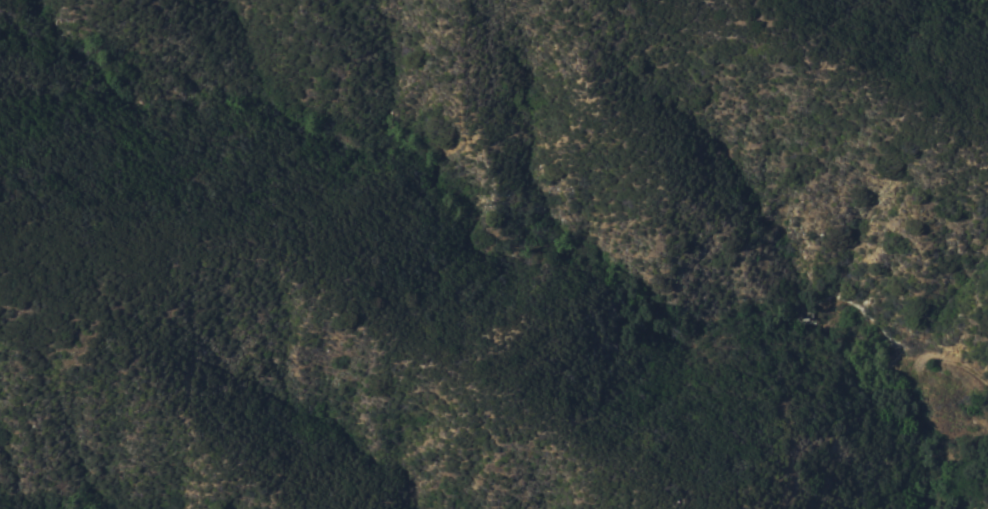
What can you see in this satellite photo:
road: (973, 365)

